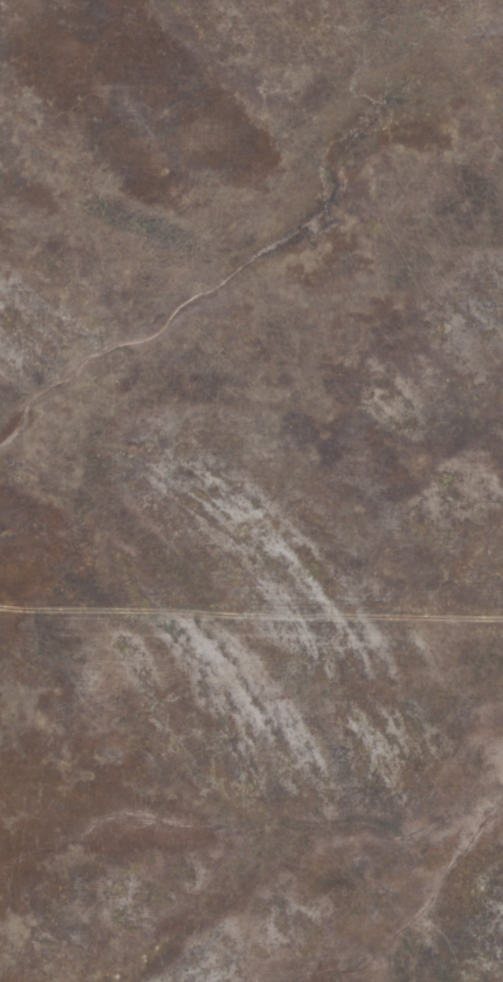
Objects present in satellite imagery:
solar farm: (251, 491)

